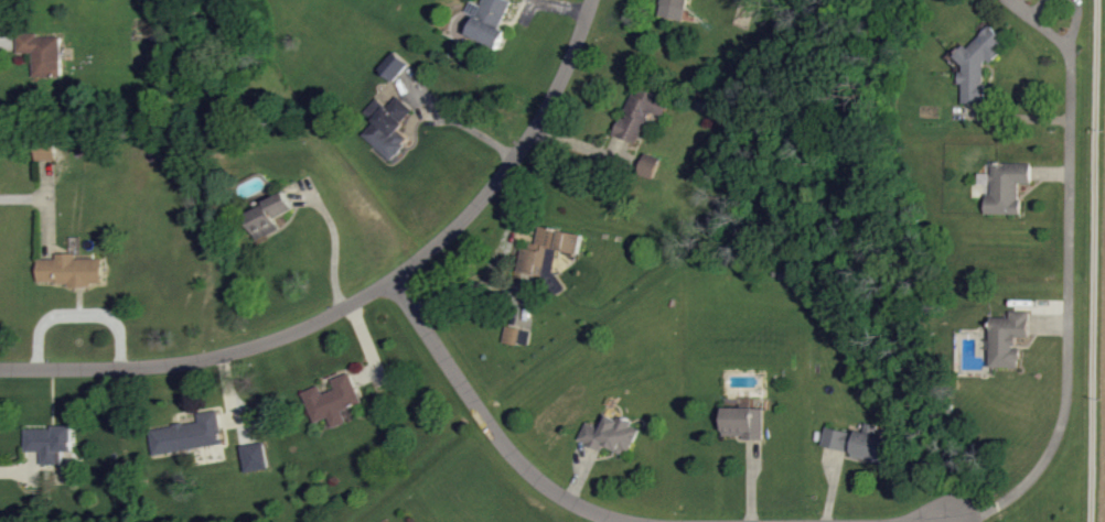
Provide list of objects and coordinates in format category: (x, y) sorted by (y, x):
building: (674, 9)
building: (491, 21)
building: (43, 50)
building: (978, 64)
building: (394, 67)
building: (641, 112)
building: (389, 128)
building: (46, 153)
building: (650, 165)
building: (1008, 187)
building: (268, 216)
road: (335, 248)
building: (548, 254)
road: (1093, 260)
road: (497, 262)
building: (69, 271)
road: (364, 291)
road: (1069, 292)
building: (517, 336)
building: (1009, 339)
building: (333, 401)
building: (744, 423)
road: (497, 431)
building: (189, 435)
building: (612, 435)
building: (49, 443)
building: (858, 444)
building: (255, 457)

